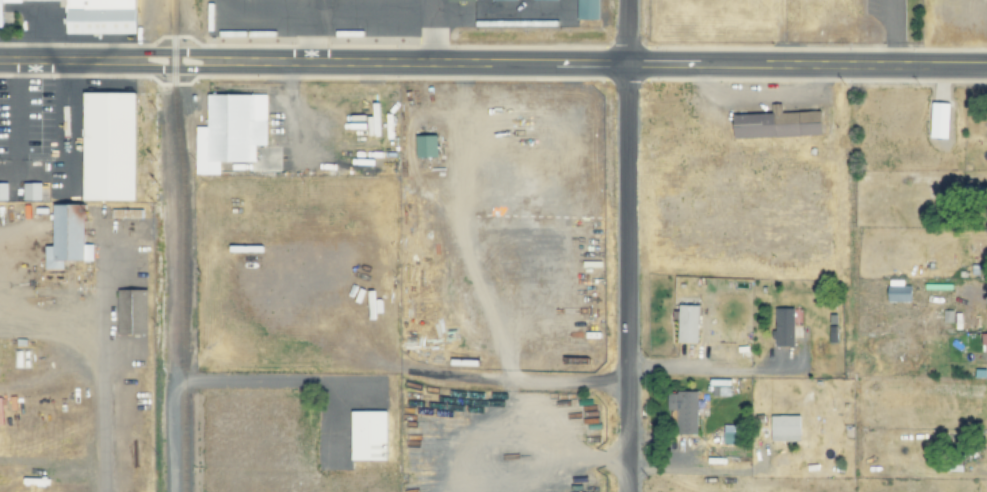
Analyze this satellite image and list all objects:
building: (544, 0)
building: (458, 1)
building: (501, 1)
building: (585, 11)
building: (1, 15)
building: (101, 16)
road: (354, 64)
road: (847, 65)
building: (940, 120)
building: (777, 124)
building: (229, 132)
building: (426, 146)
building: (108, 147)
building: (32, 191)
building: (3, 192)
building: (127, 213)
building: (64, 238)
railway: (181, 245)
road: (627, 246)
road: (168, 277)
building: (898, 292)
building: (130, 313)
building: (688, 324)
building: (784, 327)
building: (984, 341)
building: (684, 411)
building: (785, 428)
building: (729, 434)
building: (365, 437)

